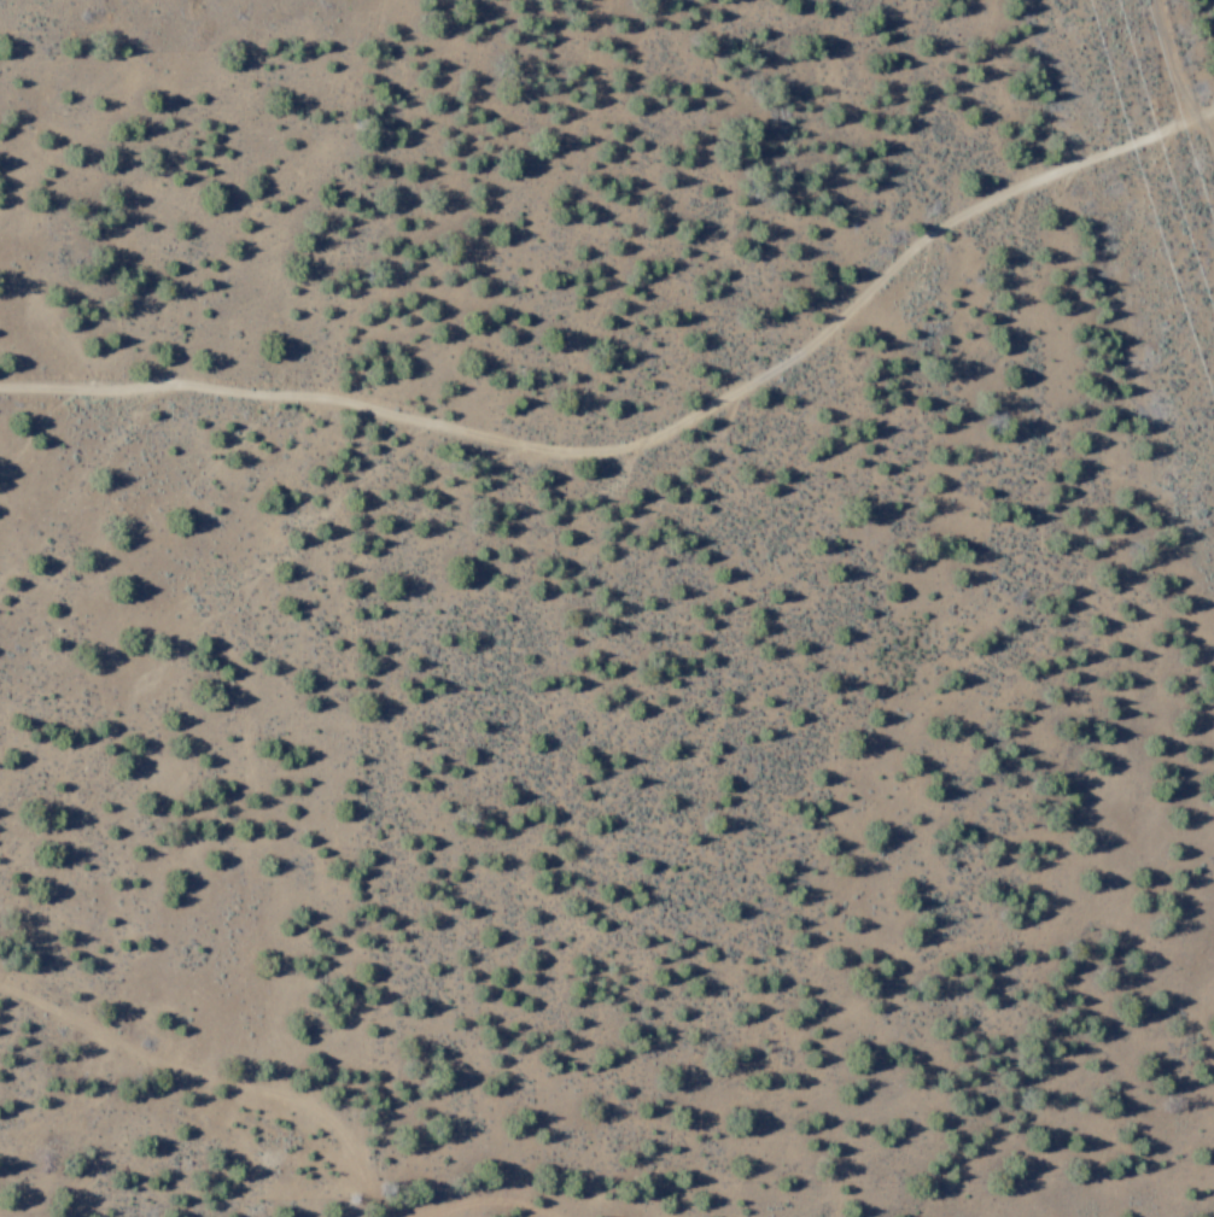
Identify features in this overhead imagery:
road: (1184, 86)

